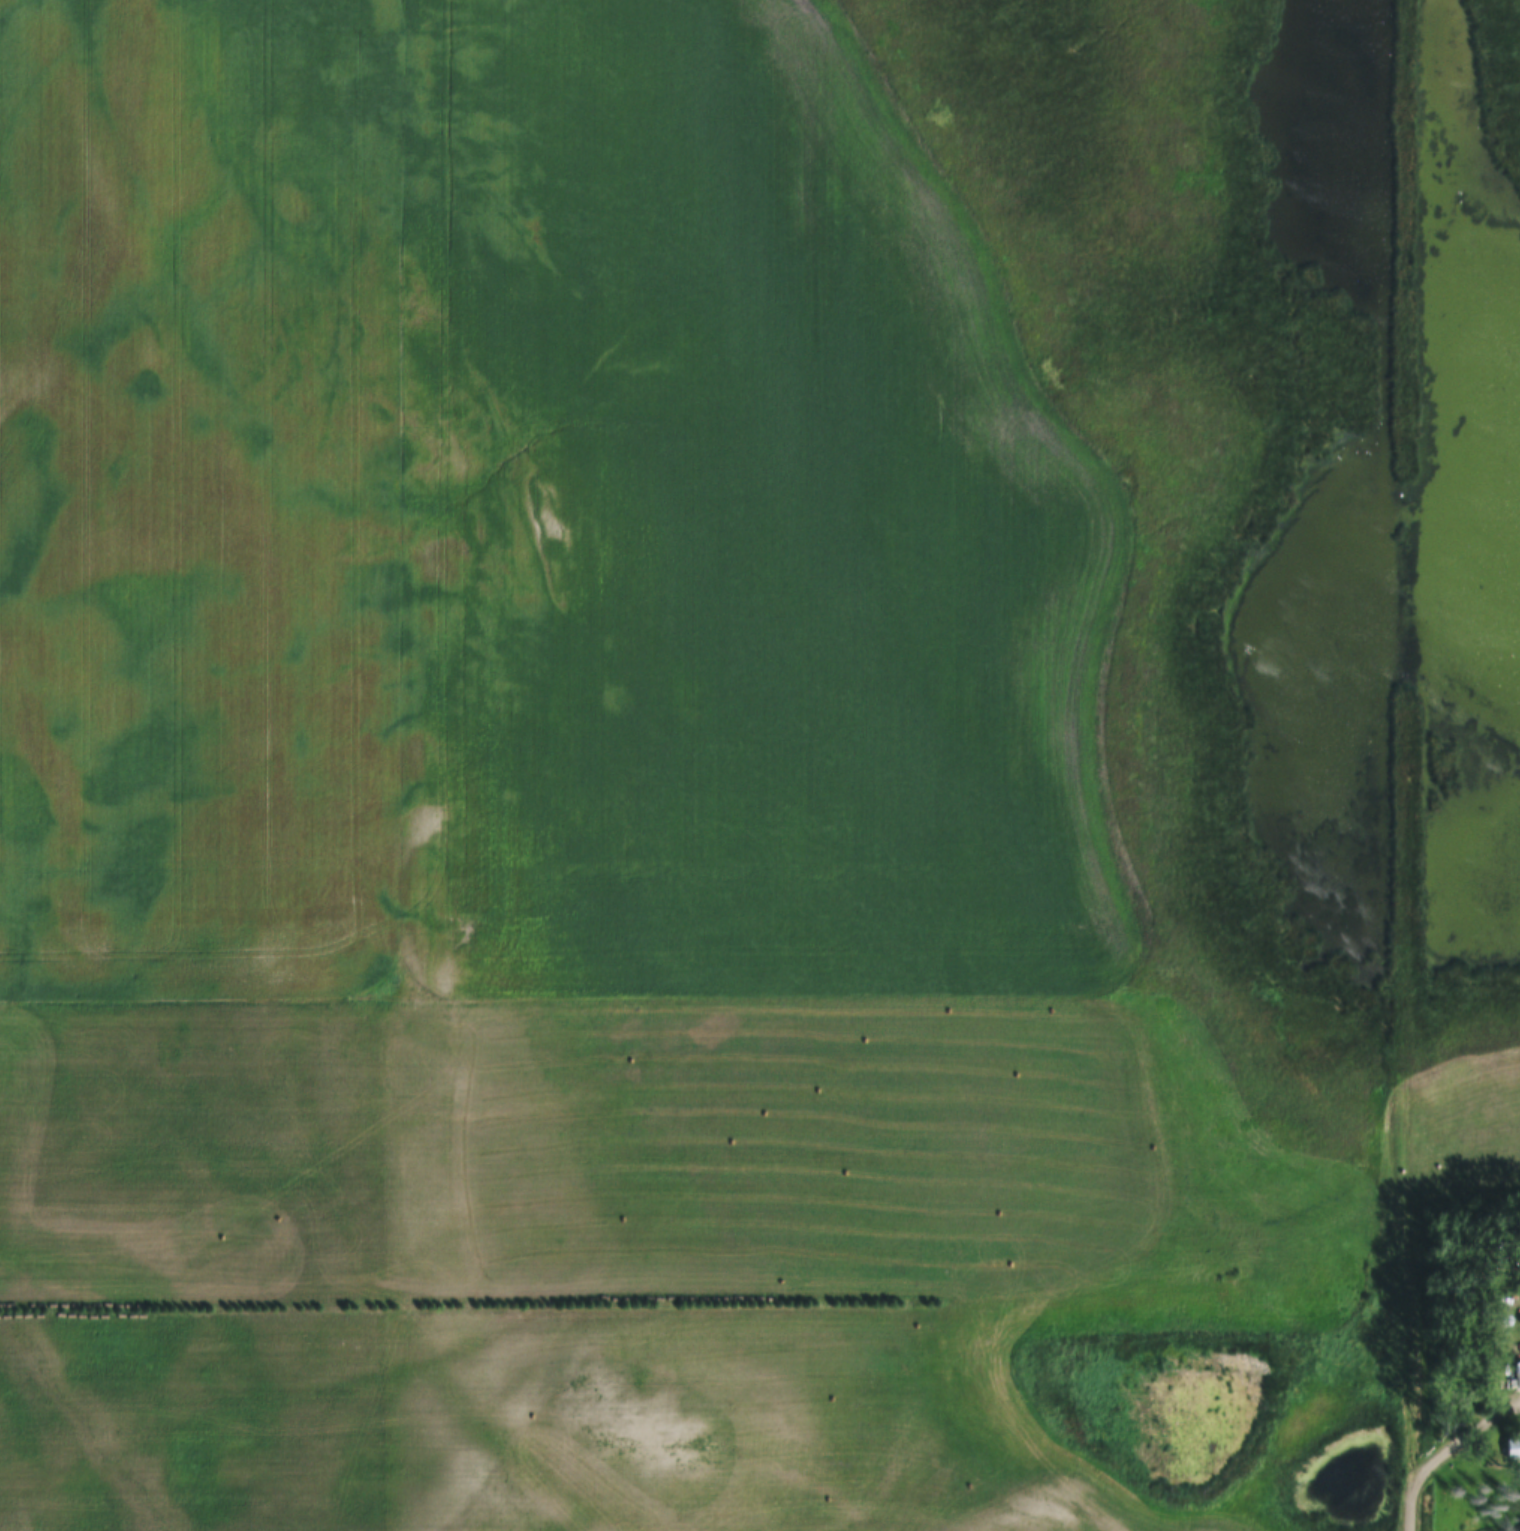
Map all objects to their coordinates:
building: (1505, 1320)
silo: (1505, 1320)
building: (1518, 1374)
building: (1513, 1448)
road: (1444, 1455)

